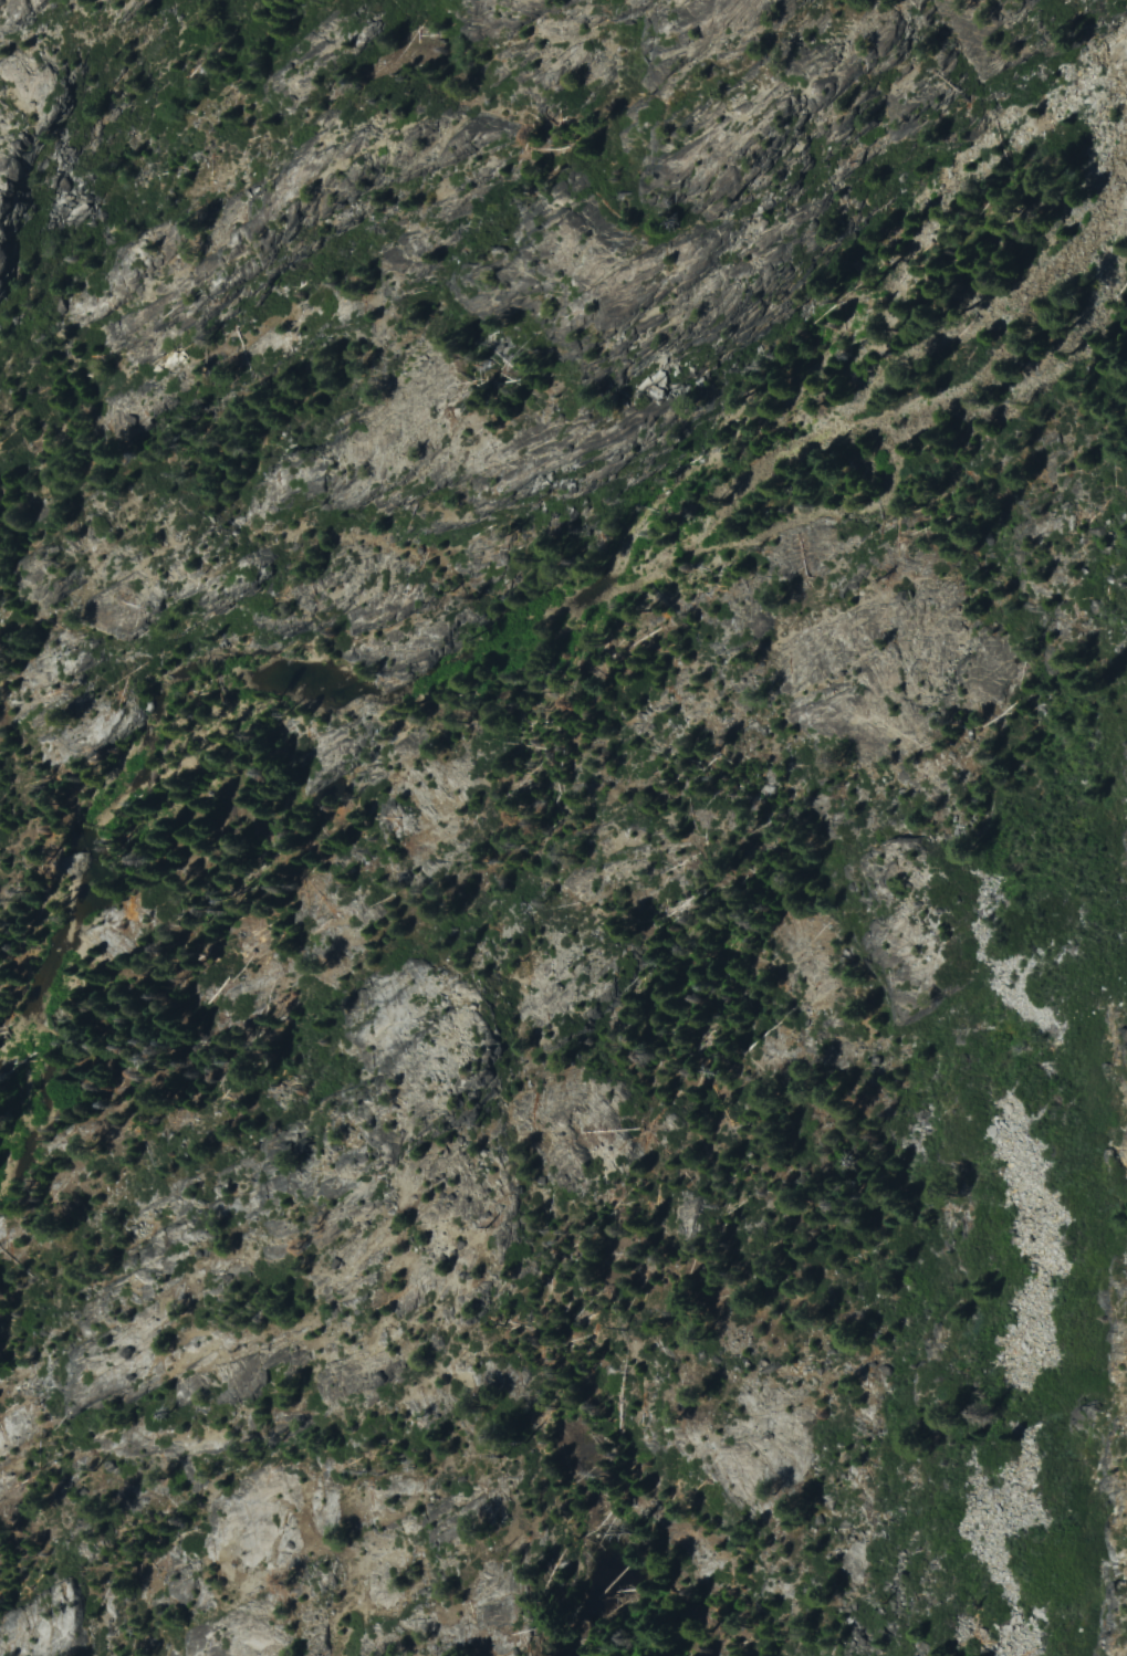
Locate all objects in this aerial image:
river: (514, 620)

